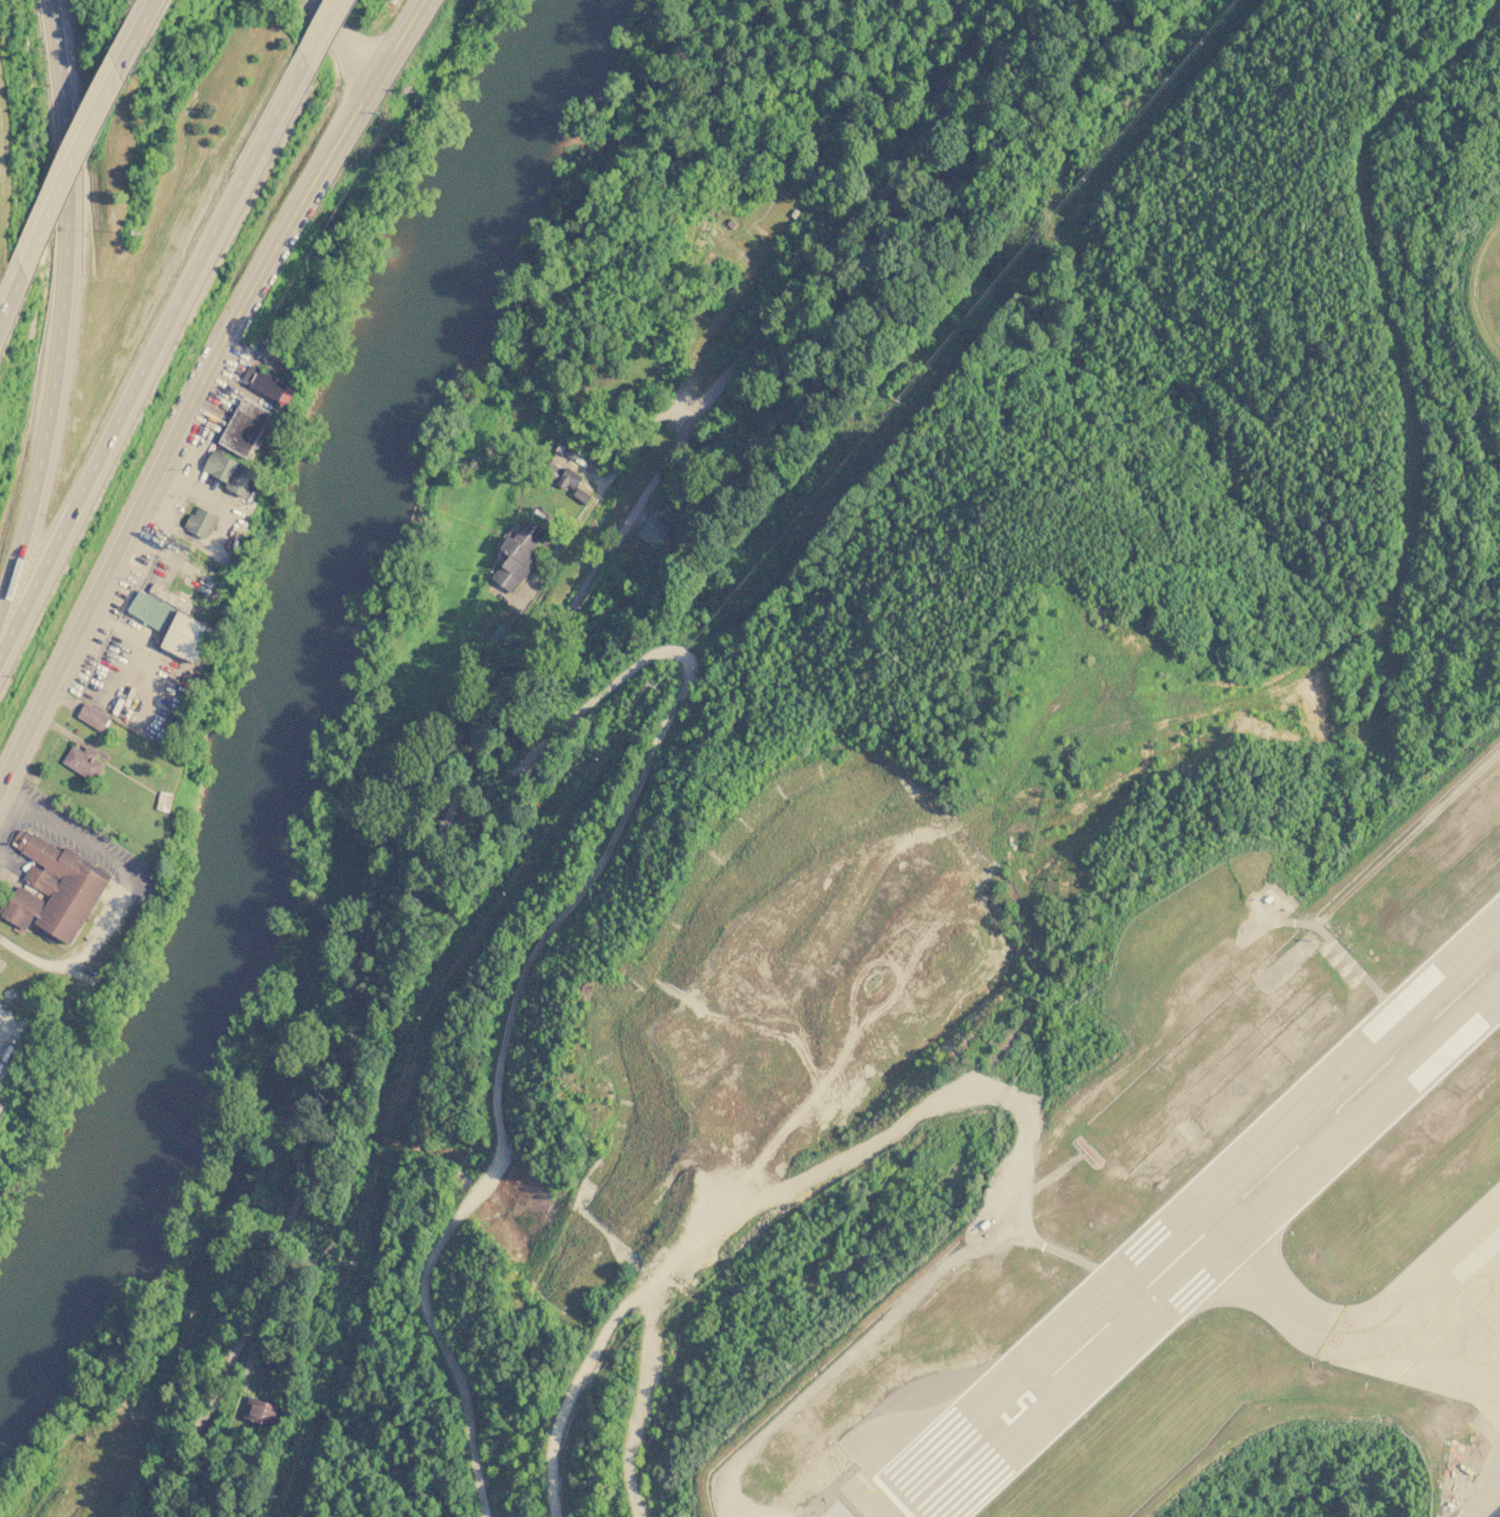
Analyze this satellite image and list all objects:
road: (335, 29)
road: (322, 30)
road: (136, 37)
power tower: (1200, 43)
road: (367, 66)
road: (68, 173)
power tower: (1084, 179)
railway: (845, 184)
airport: (1467, 298)
road: (11, 299)
road: (62, 312)
road: (150, 356)
building: (268, 384)
road: (201, 388)
power tower: (897, 402)
road: (675, 416)
building: (244, 427)
road: (628, 451)
building: (231, 473)
building: (561, 475)
building: (580, 495)
power tower: (801, 514)
building: (200, 522)
building: (652, 530)
building: (516, 554)
building: (171, 622)
river: (275, 683)
power tower: (651, 687)
building: (92, 716)
road: (502, 716)
building: (83, 762)
building: (163, 801)
road: (5, 864)
road: (128, 889)
building: (55, 890)
road: (550, 921)
building: (1, 964)
power tower: (420, 1021)
road: (720, 1204)
airport runway: (1200, 1236)
airport: (1143, 1240)
power tower: (329, 1250)
power tower: (353, 1266)
airport taxiway: (1268, 1284)
airport taxiway: (1422, 1286)
airport taxiway: (1403, 1330)
airport apron: (1465, 1359)
building: (268, 1360)
building: (259, 1411)
building: (1499, 1516)

